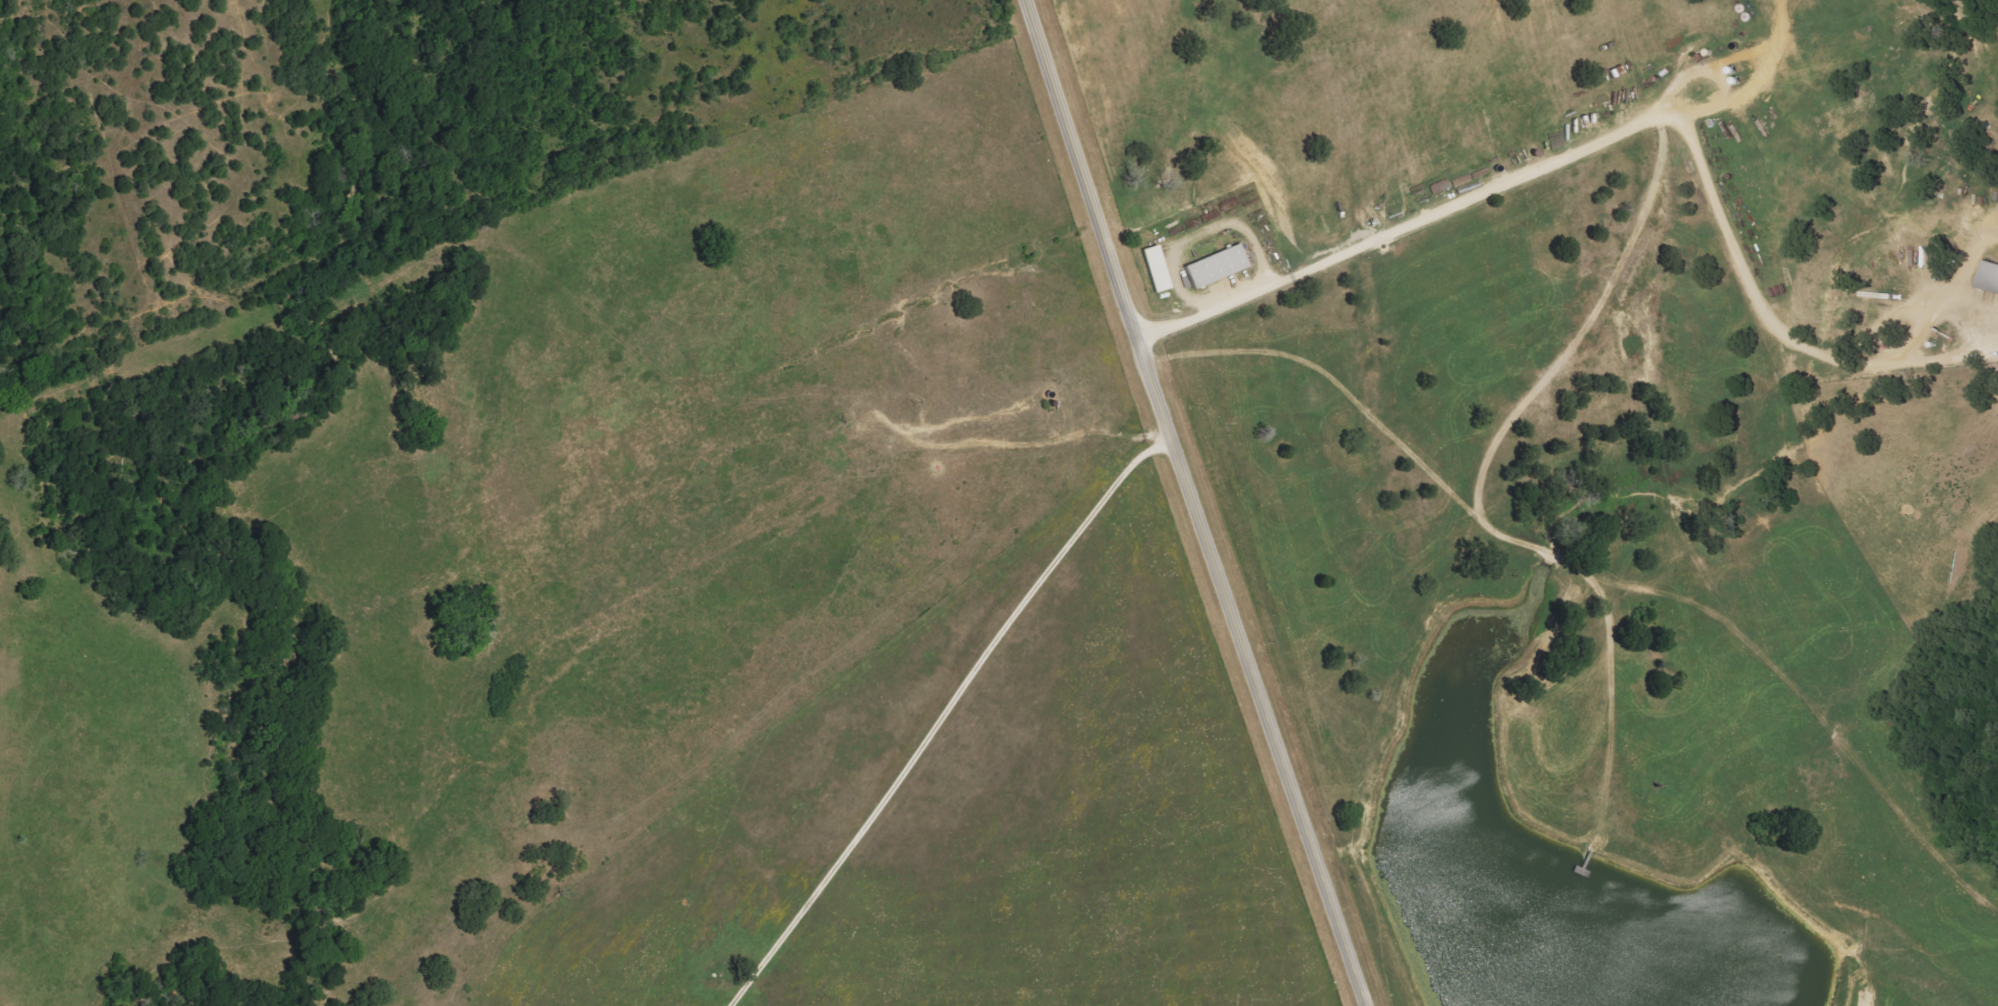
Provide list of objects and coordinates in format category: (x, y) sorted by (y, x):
road: (1691, 148)
building: (1213, 265)
building: (1154, 268)
building: (1988, 275)
road: (1212, 311)
road: (1195, 503)

